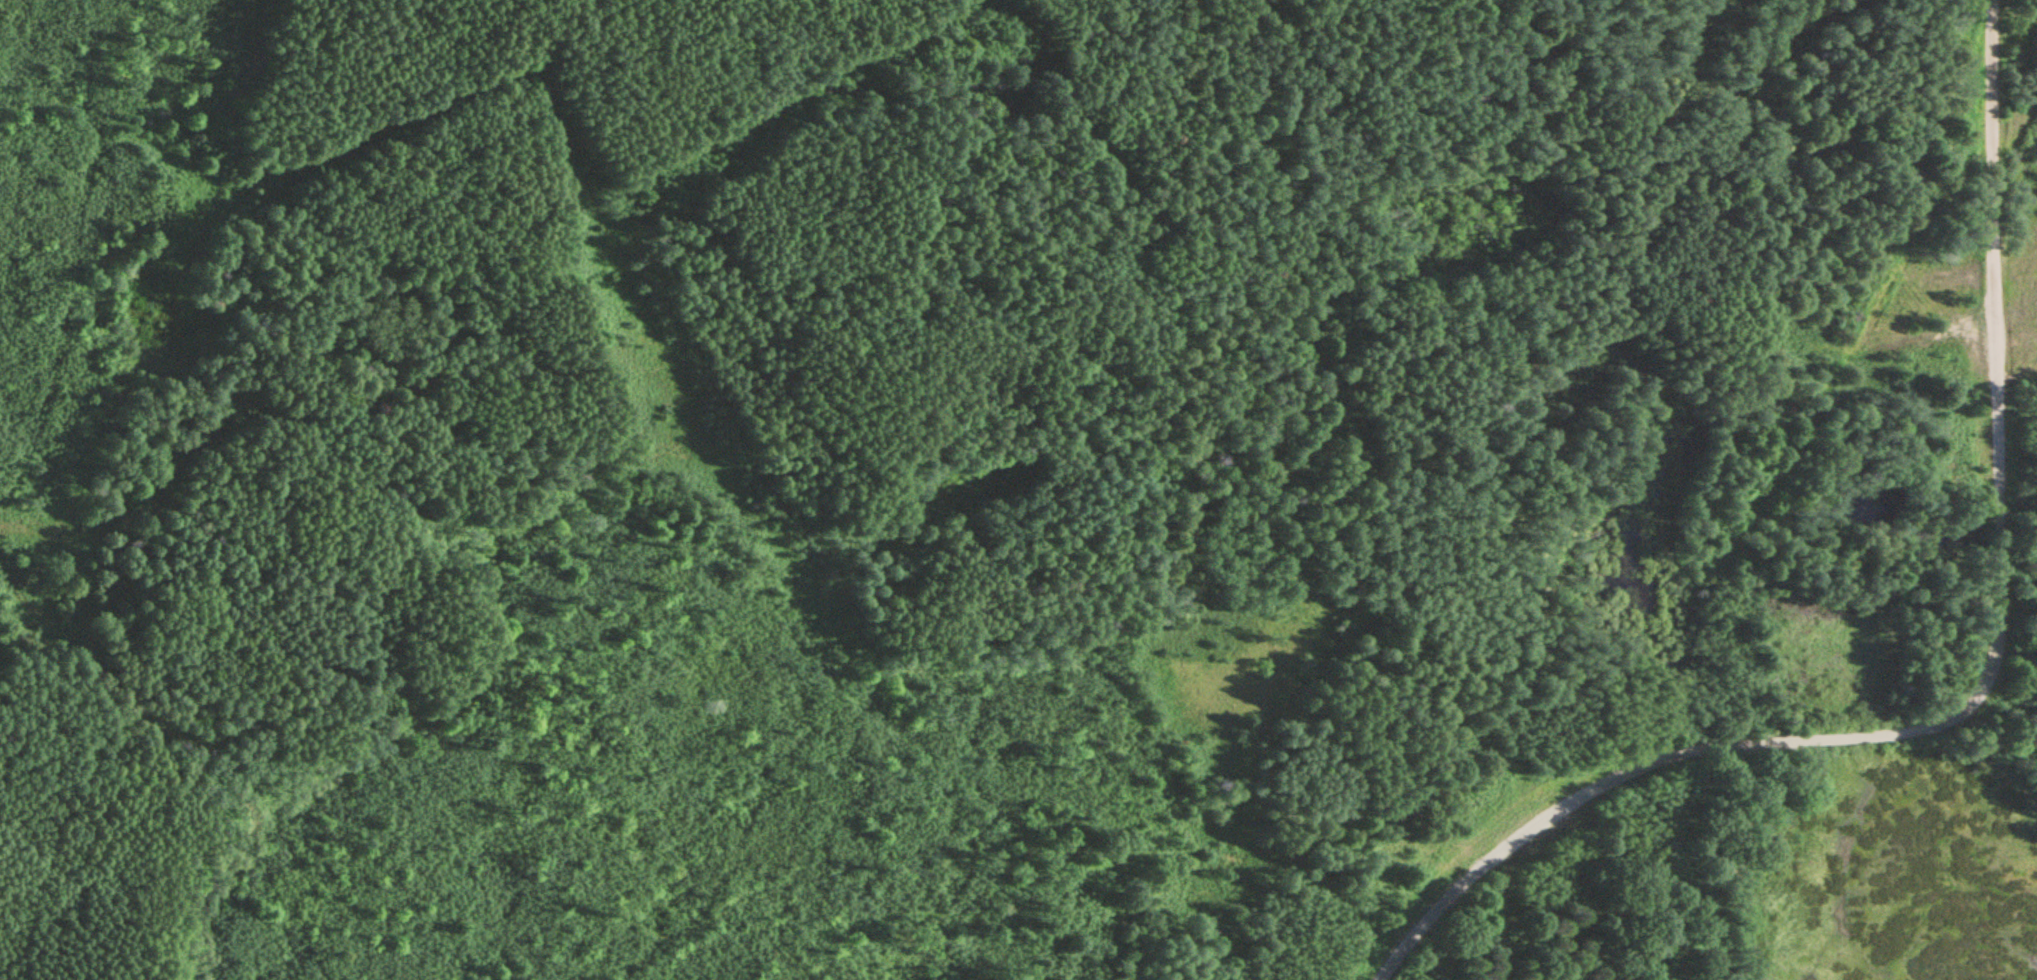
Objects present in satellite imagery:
road: (1998, 345)
road: (193, 747)
road: (1655, 763)

